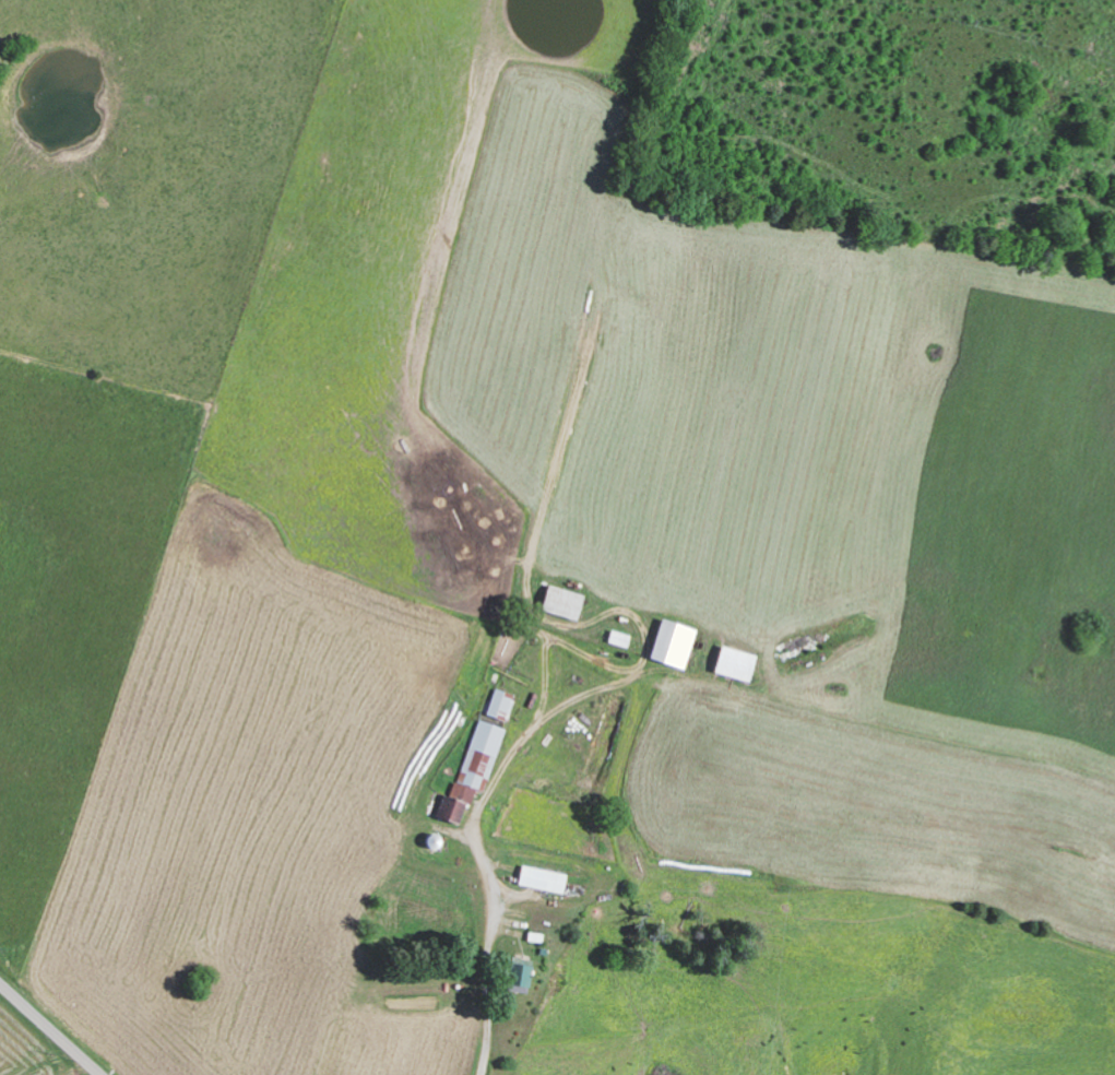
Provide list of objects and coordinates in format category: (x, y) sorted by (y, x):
building: (556, 601)
building: (615, 637)
building: (667, 643)
building: (728, 662)
building: (497, 704)
building: (471, 767)
building: (537, 878)
building: (513, 977)
road: (491, 1005)
road: (47, 1030)

